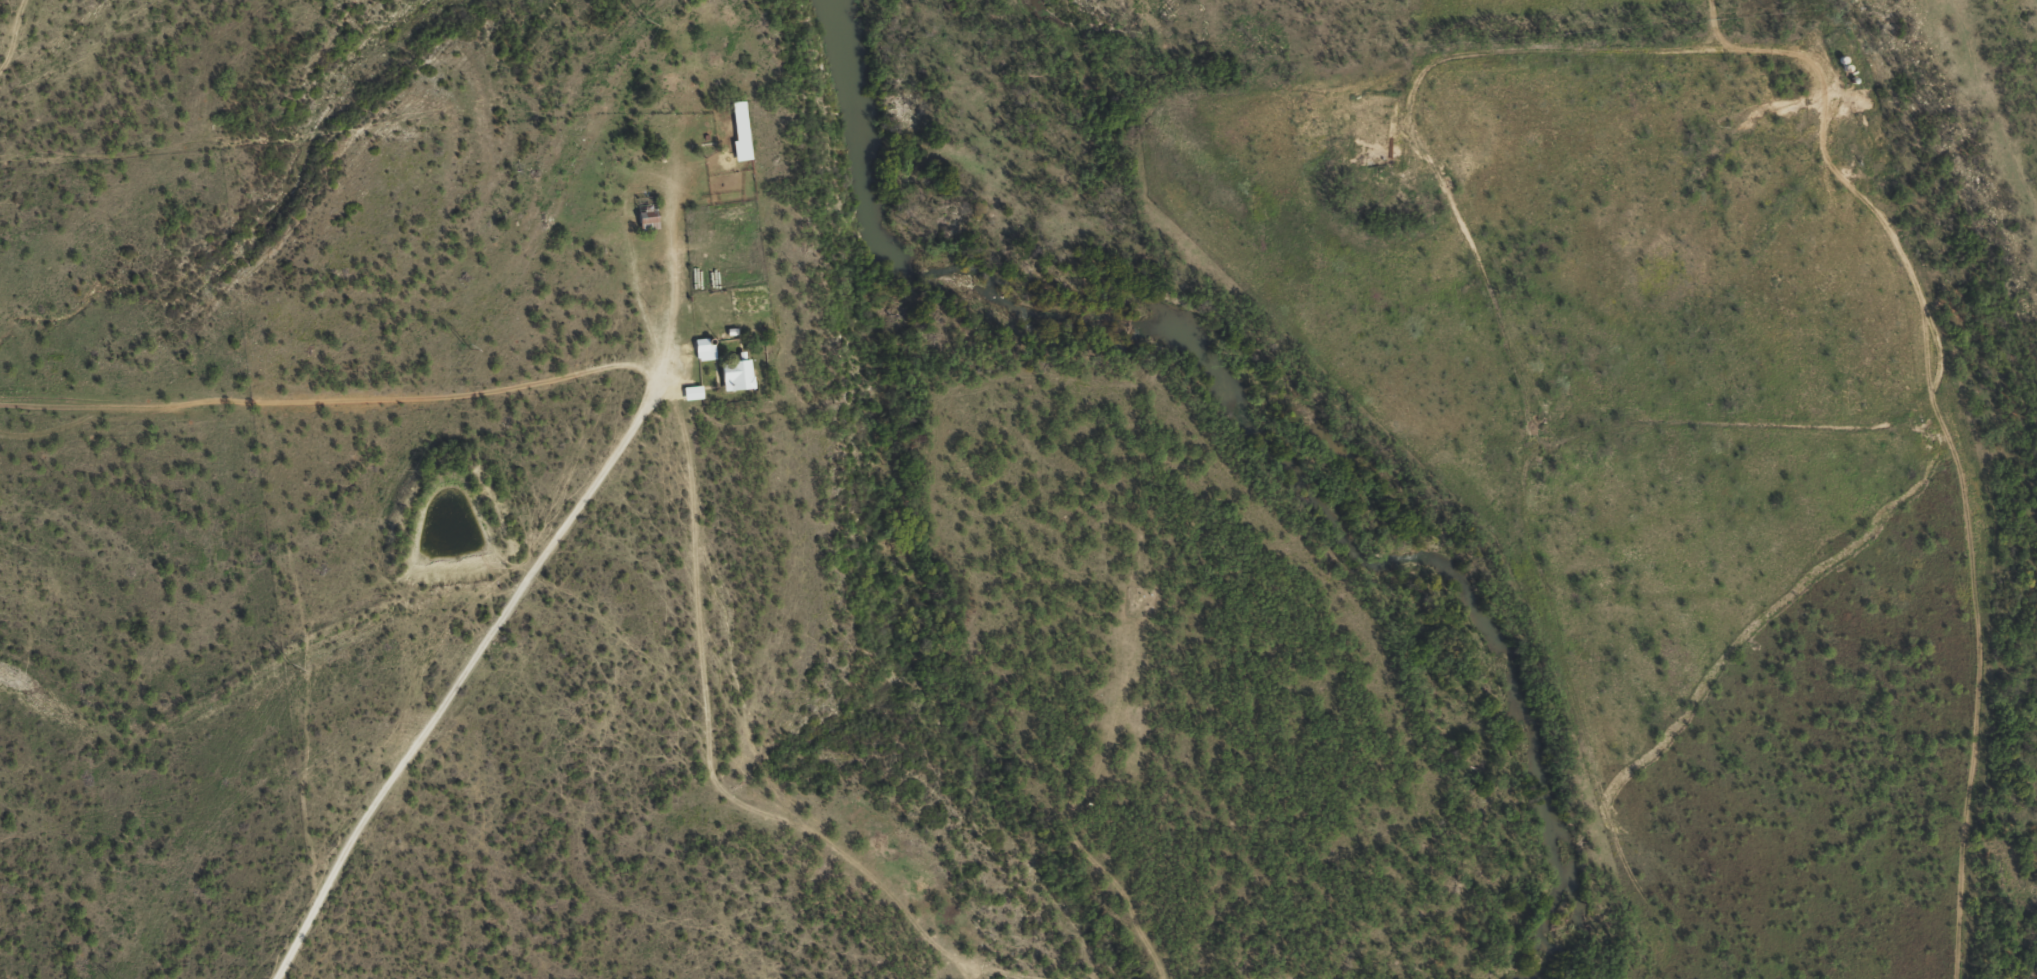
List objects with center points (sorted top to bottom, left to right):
power tower: (645, 21)
building: (738, 139)
building: (645, 225)
power tower: (466, 347)
building: (735, 384)
building: (691, 402)
road: (661, 505)
power tower: (291, 666)
road: (452, 698)

